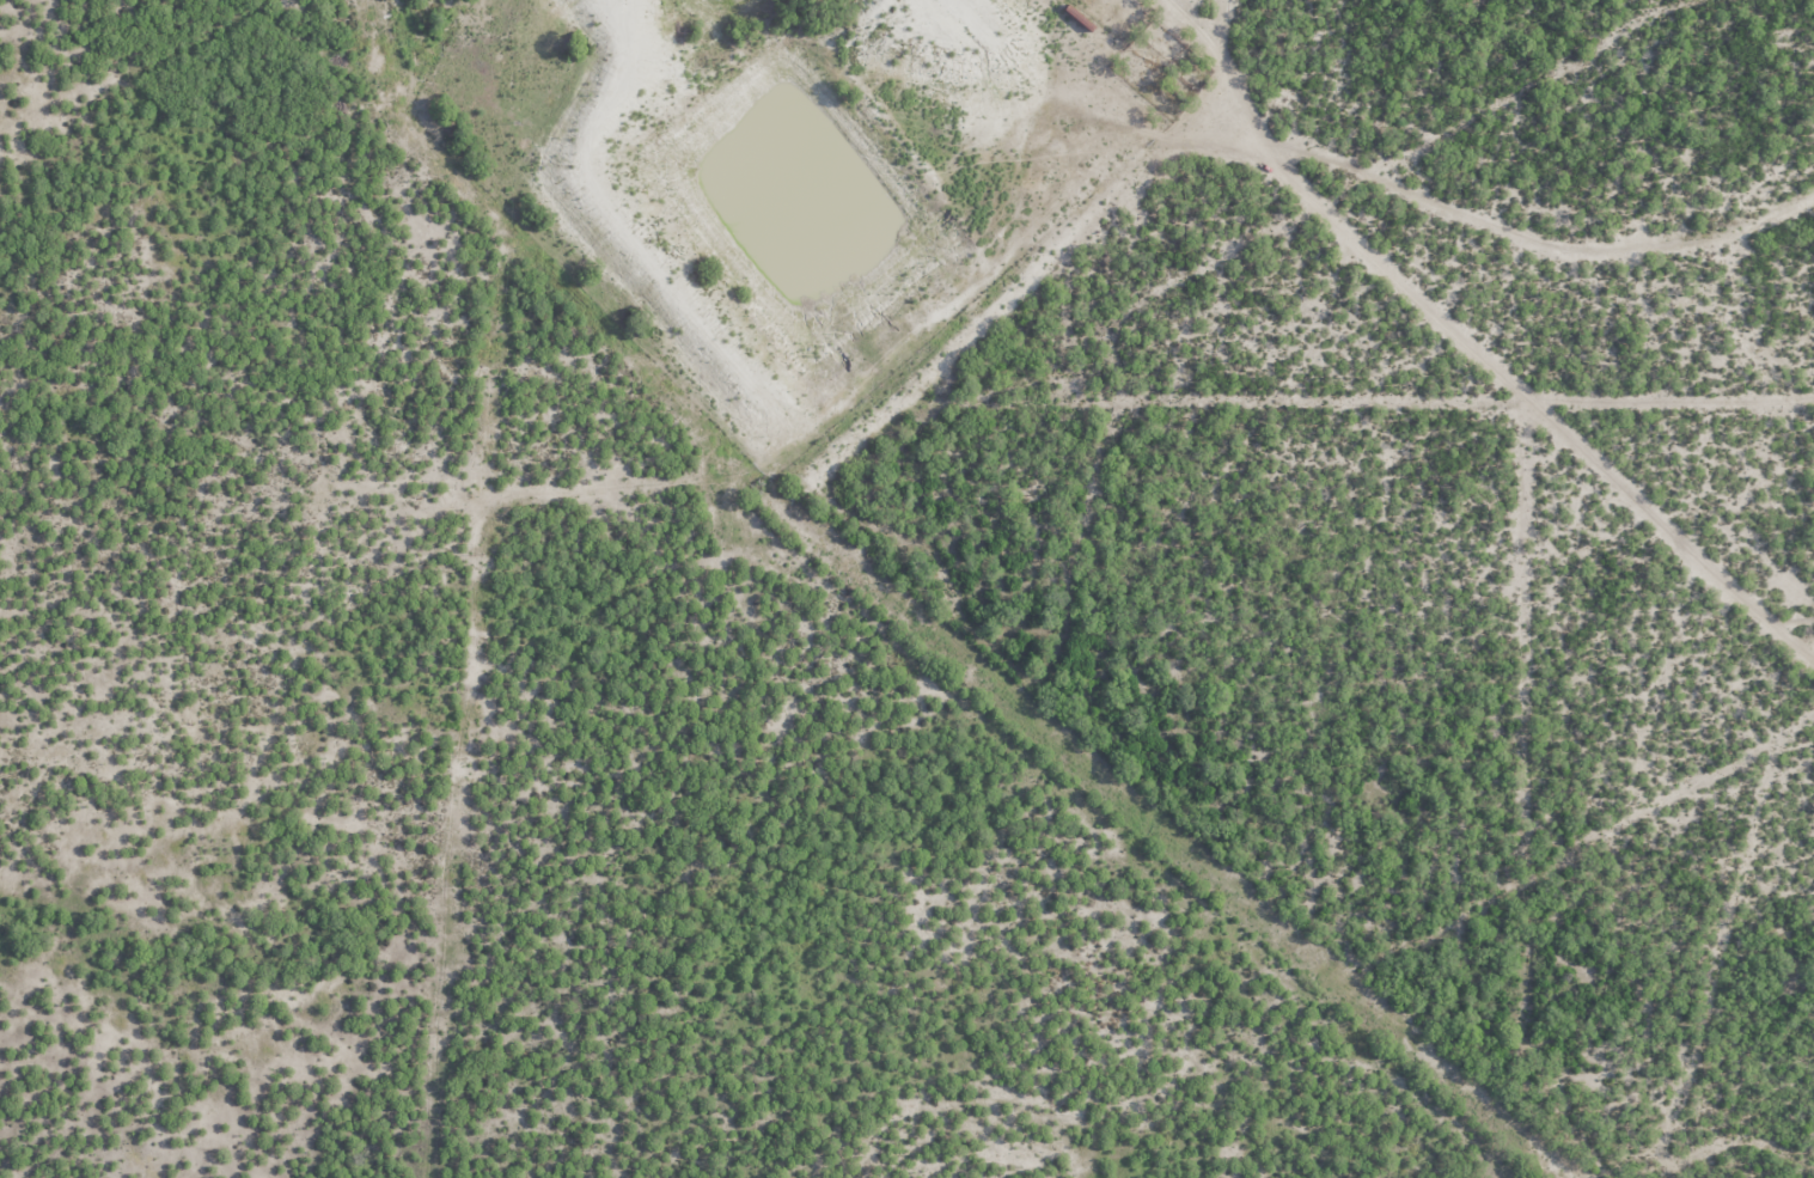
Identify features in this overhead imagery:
road: (1464, 362)

